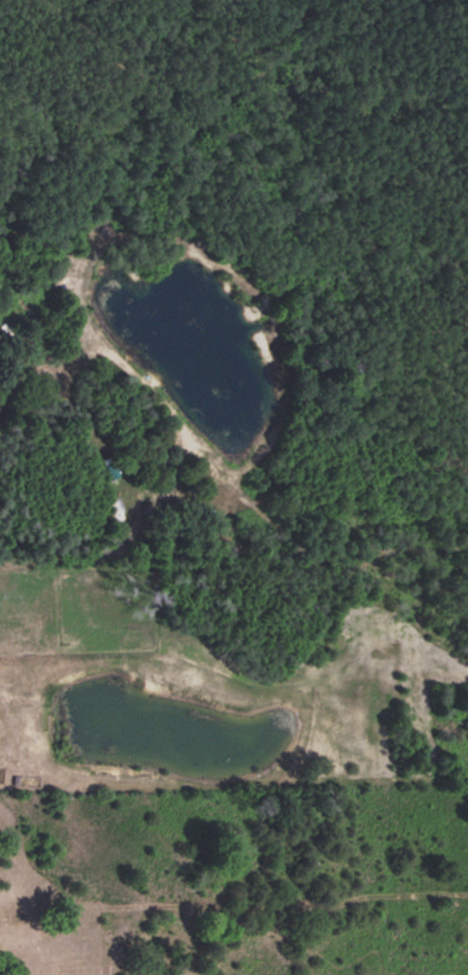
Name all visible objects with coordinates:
building: (7, 638)

